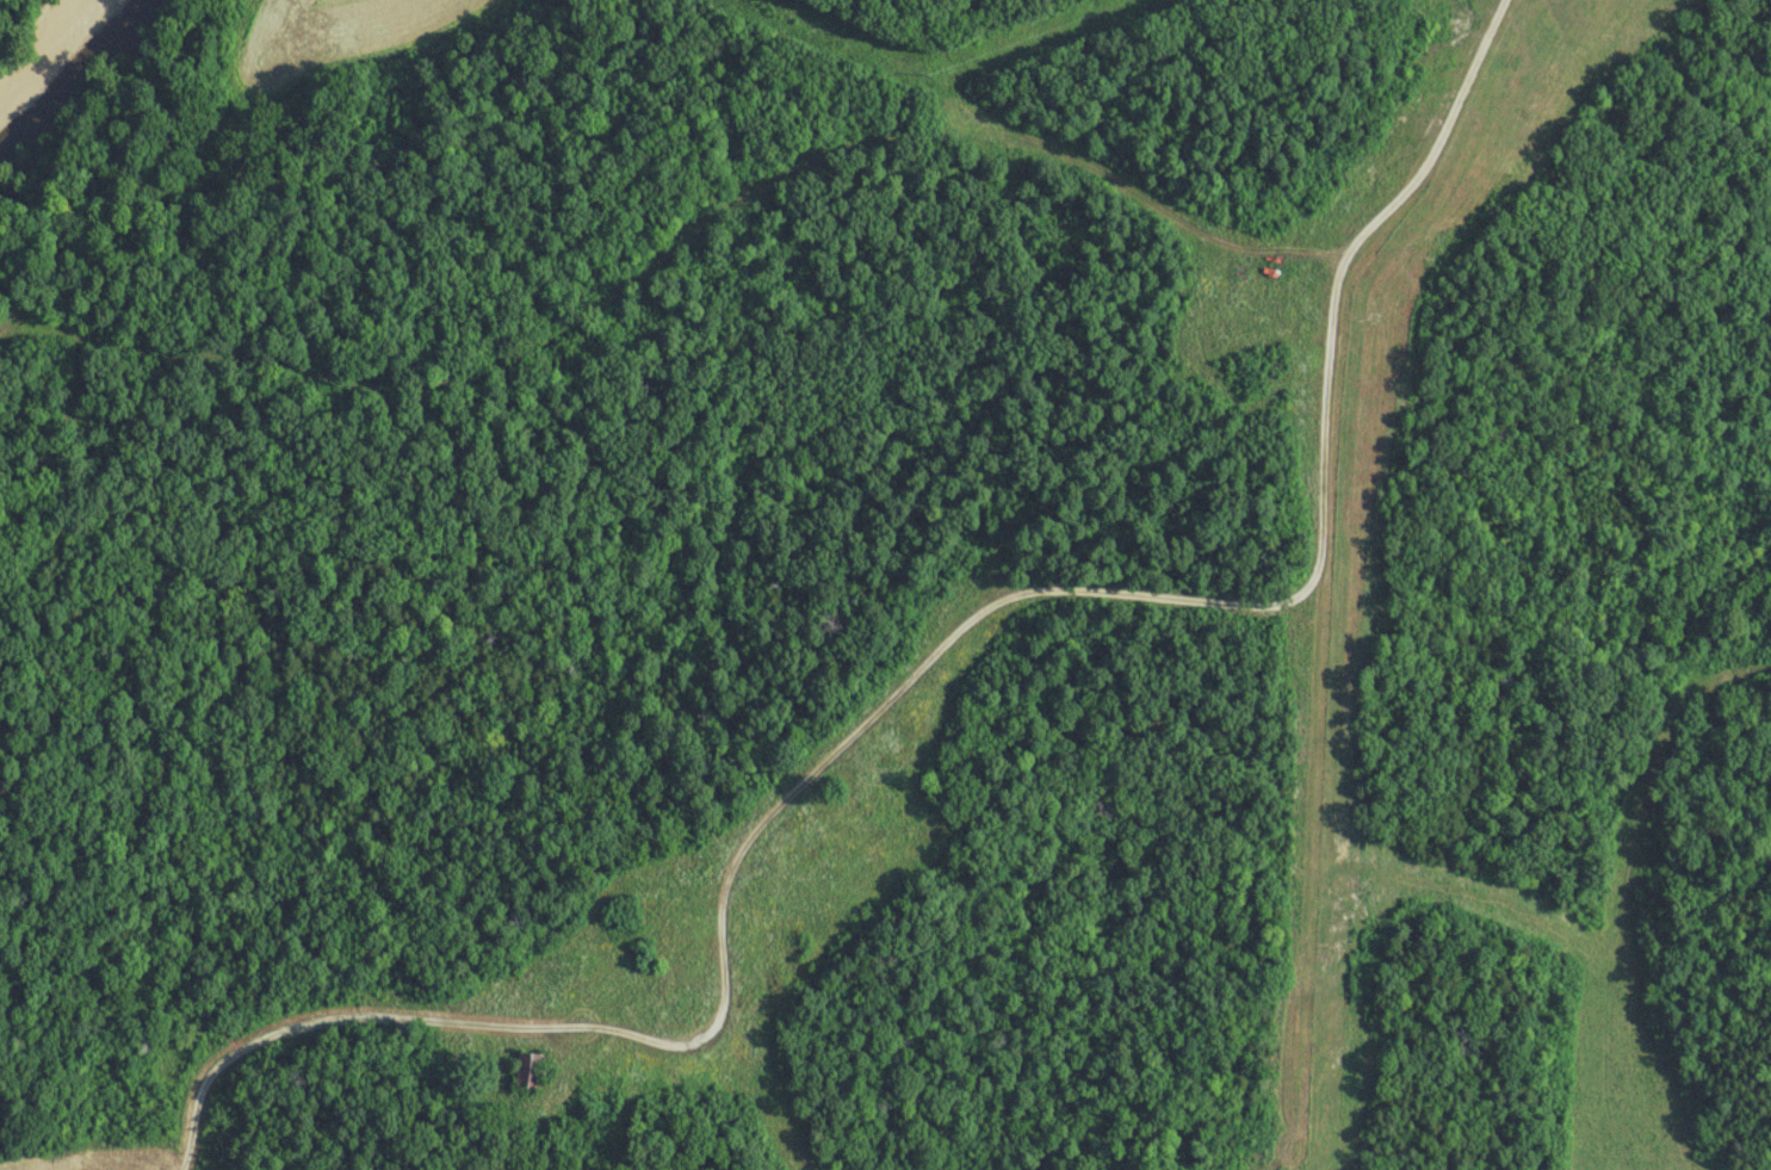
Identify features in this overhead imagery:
river: (80, 93)
road: (911, 664)
building: (530, 1072)

